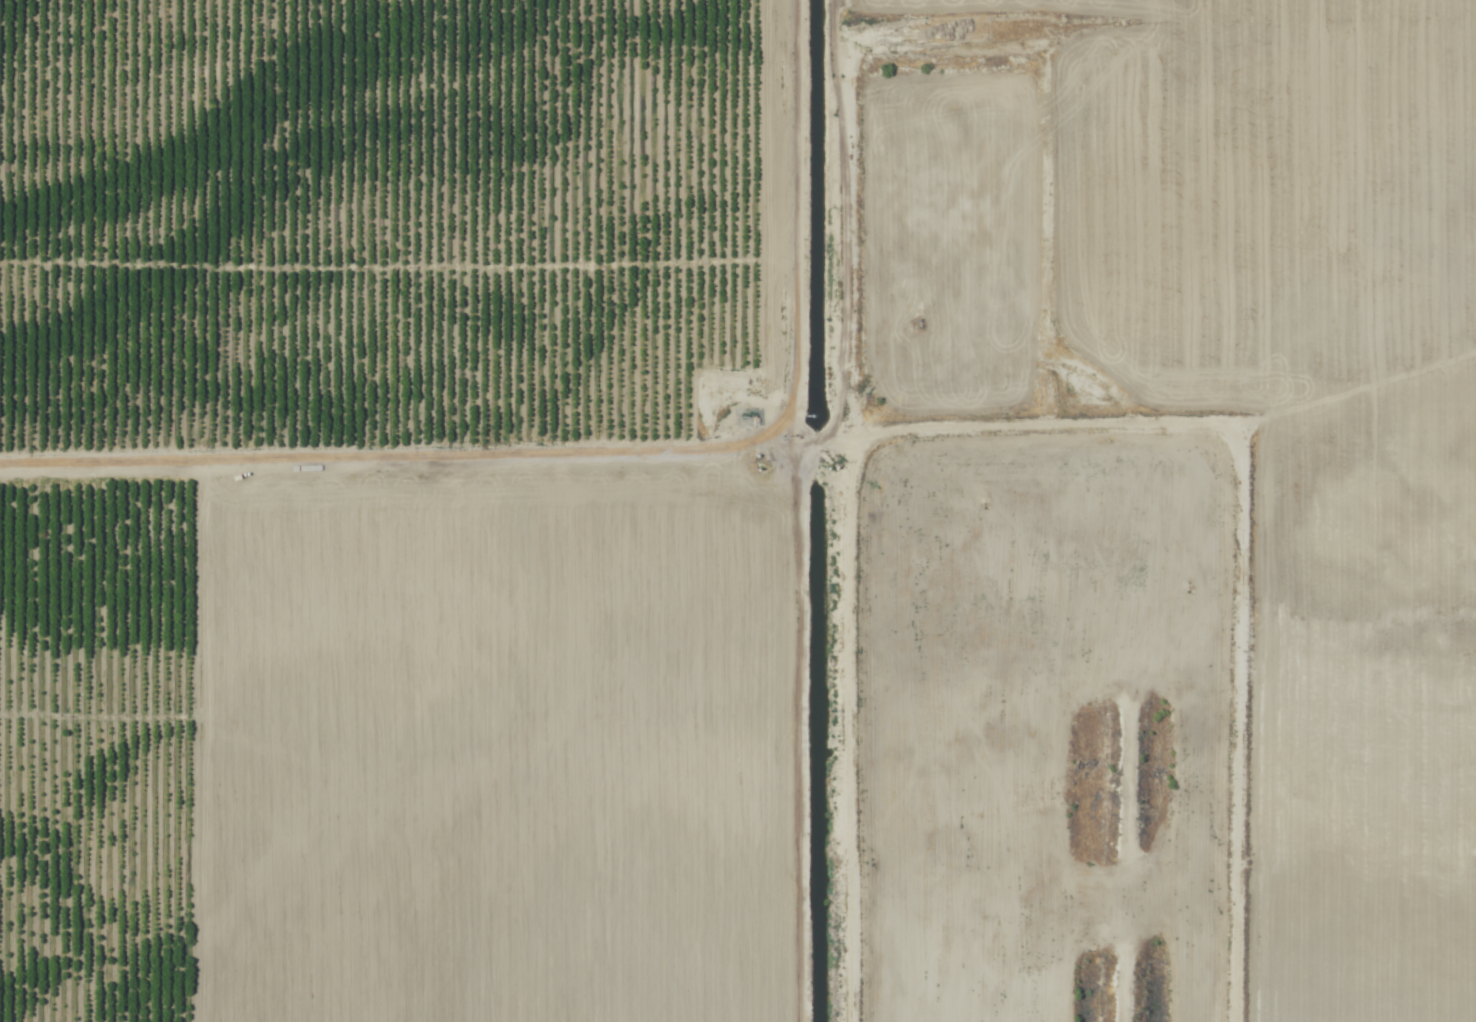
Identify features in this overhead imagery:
wastewater plant: (966, 218)
road: (829, 511)

